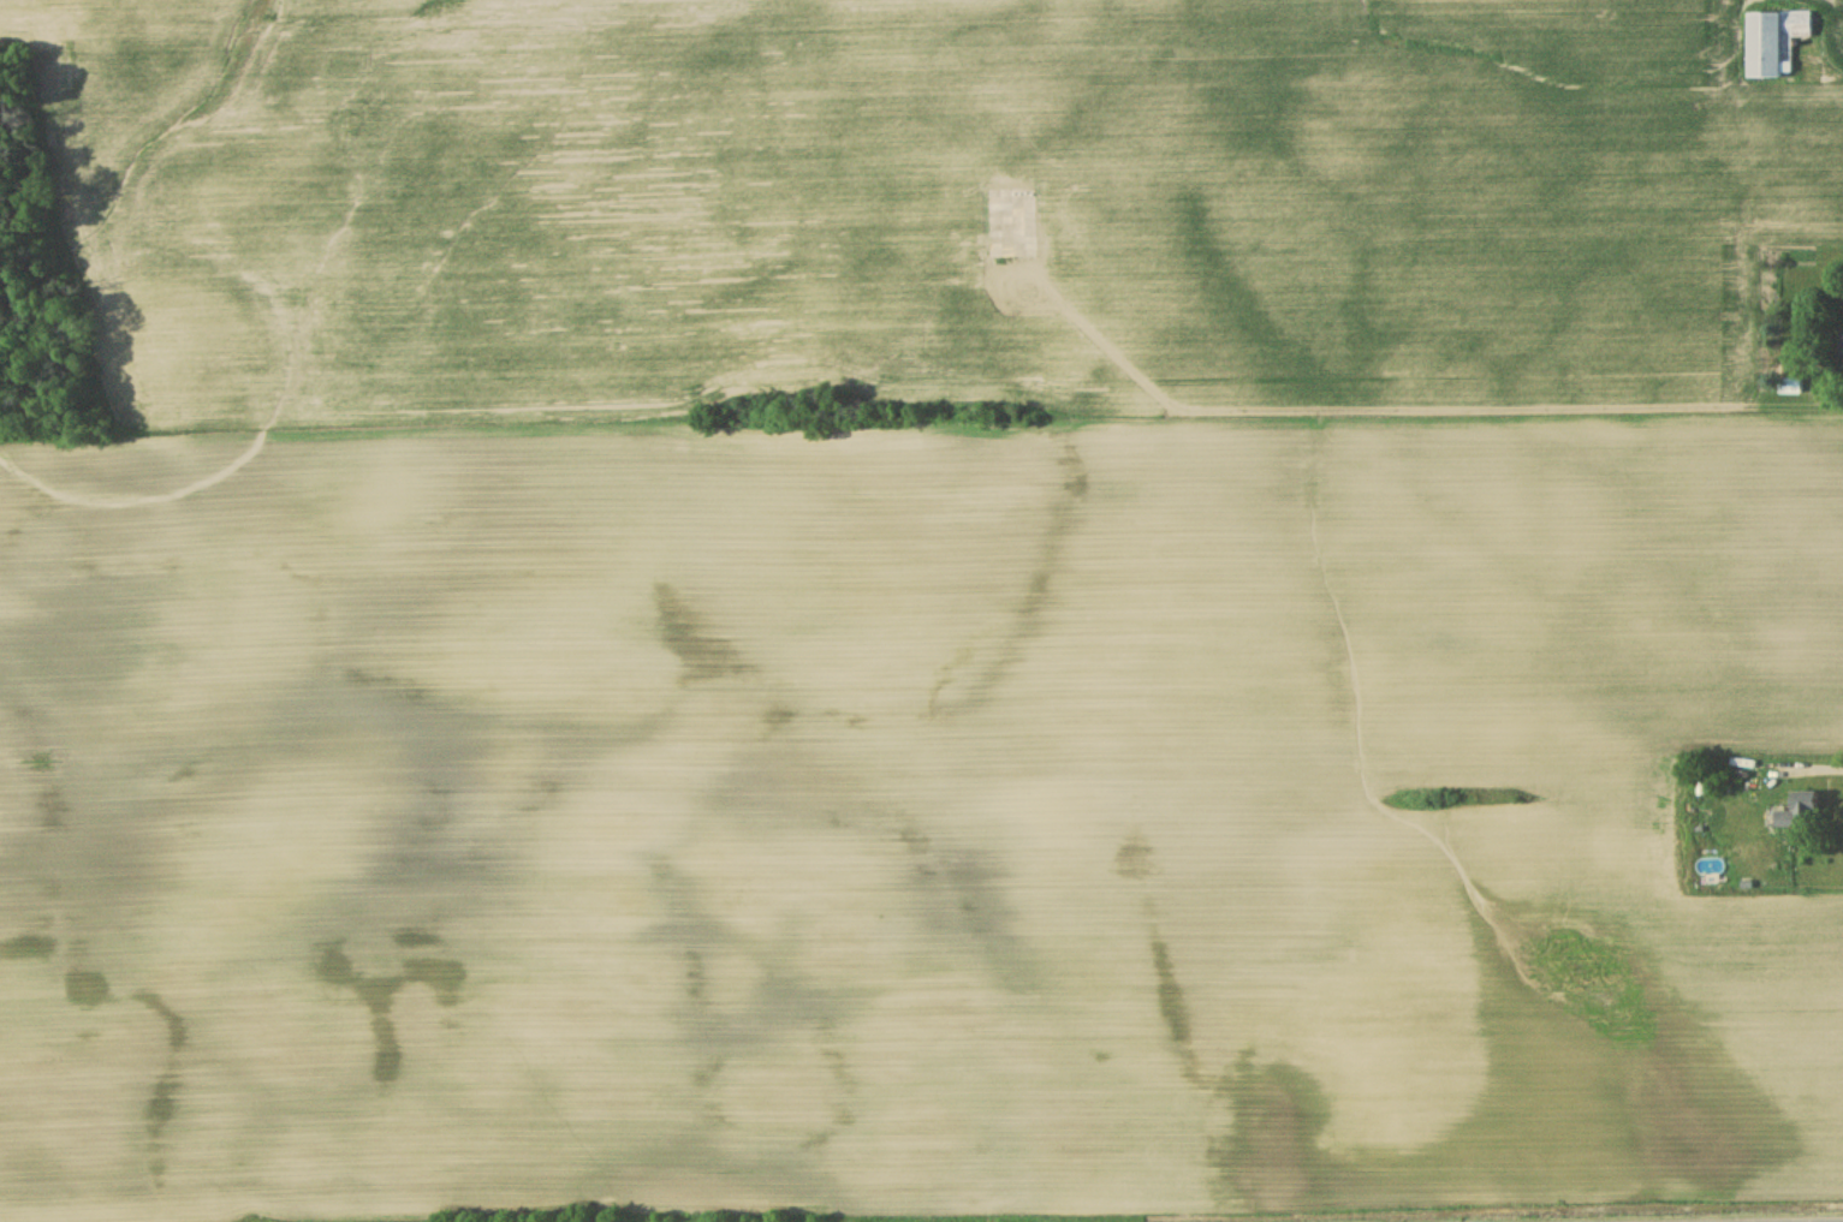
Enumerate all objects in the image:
building: (1774, 44)
road: (1829, 68)
building: (1842, 353)
road: (1814, 771)
building: (1800, 815)

